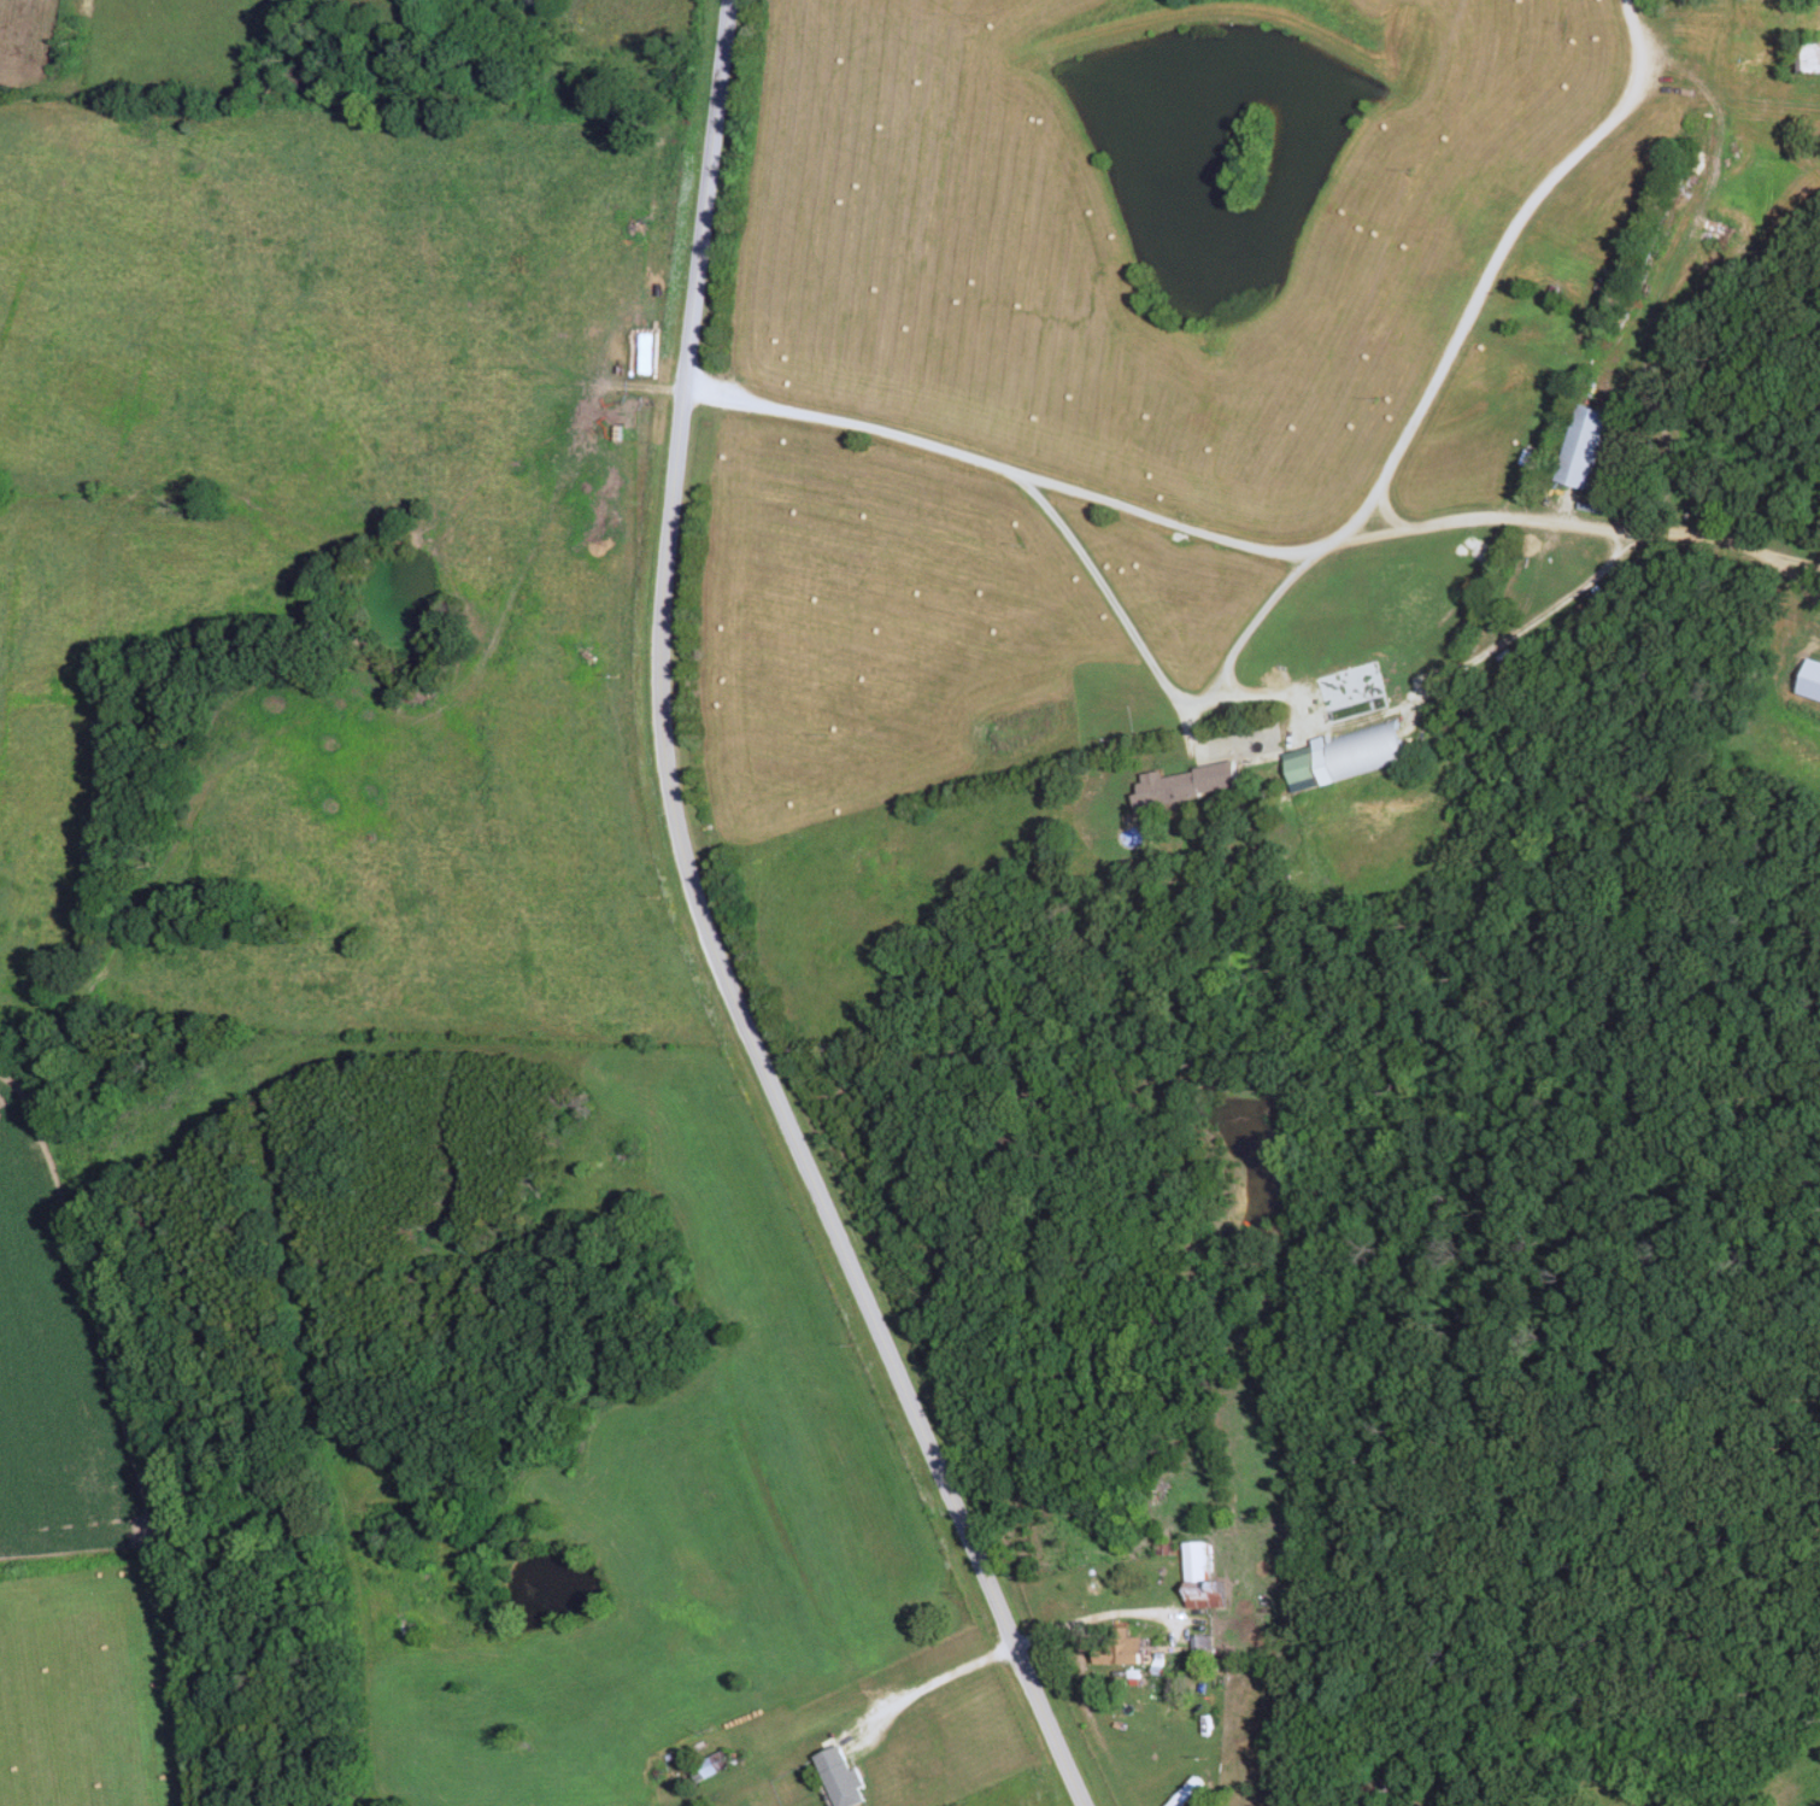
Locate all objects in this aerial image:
building: (1808, 60)
building: (1691, 71)
road: (1507, 247)
road: (1654, 283)
road: (1261, 551)
road: (1446, 669)
road: (1159, 678)
building: (1810, 682)
building: (1370, 751)
building: (1305, 769)
building: (1187, 786)
road: (712, 936)
building: (1207, 1596)
building: (1121, 1648)
road: (1004, 1649)
building: (1203, 1649)
building: (843, 1778)

